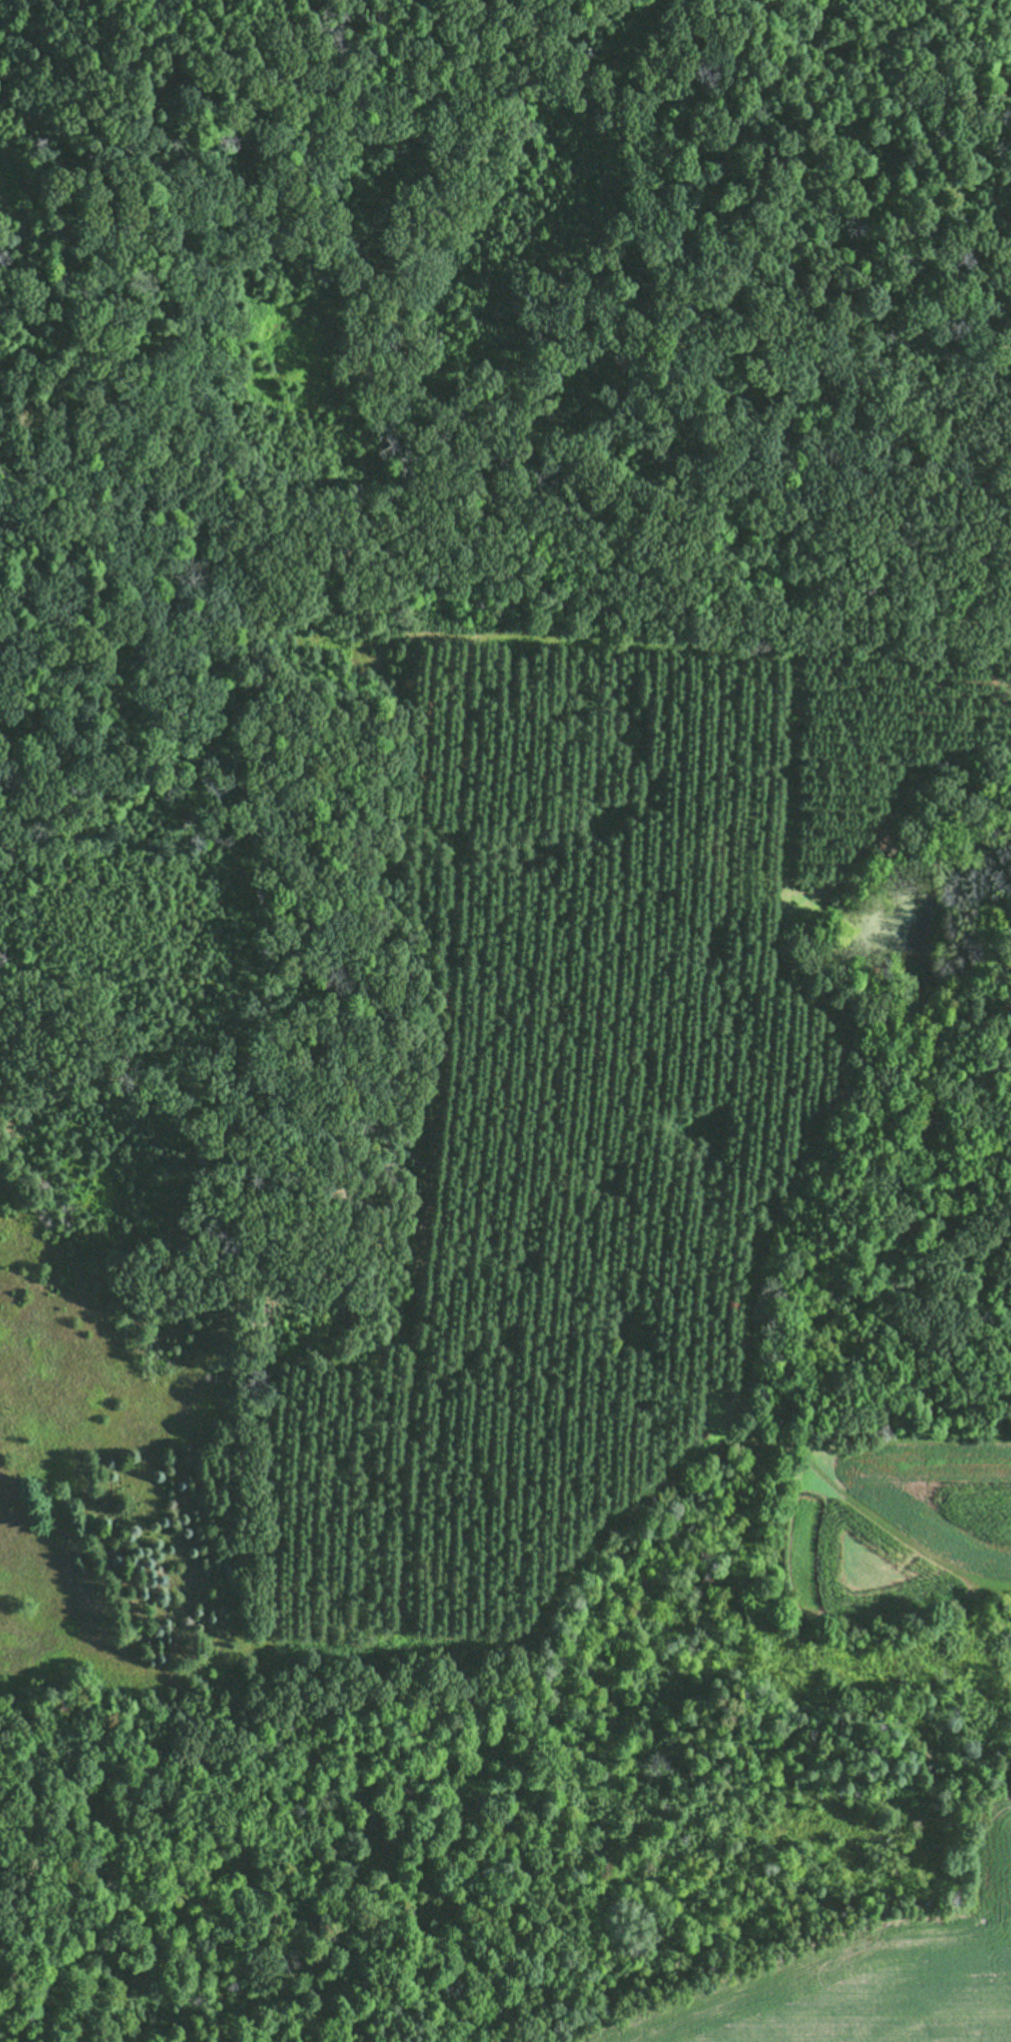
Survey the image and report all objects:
road: (13, 2009)

